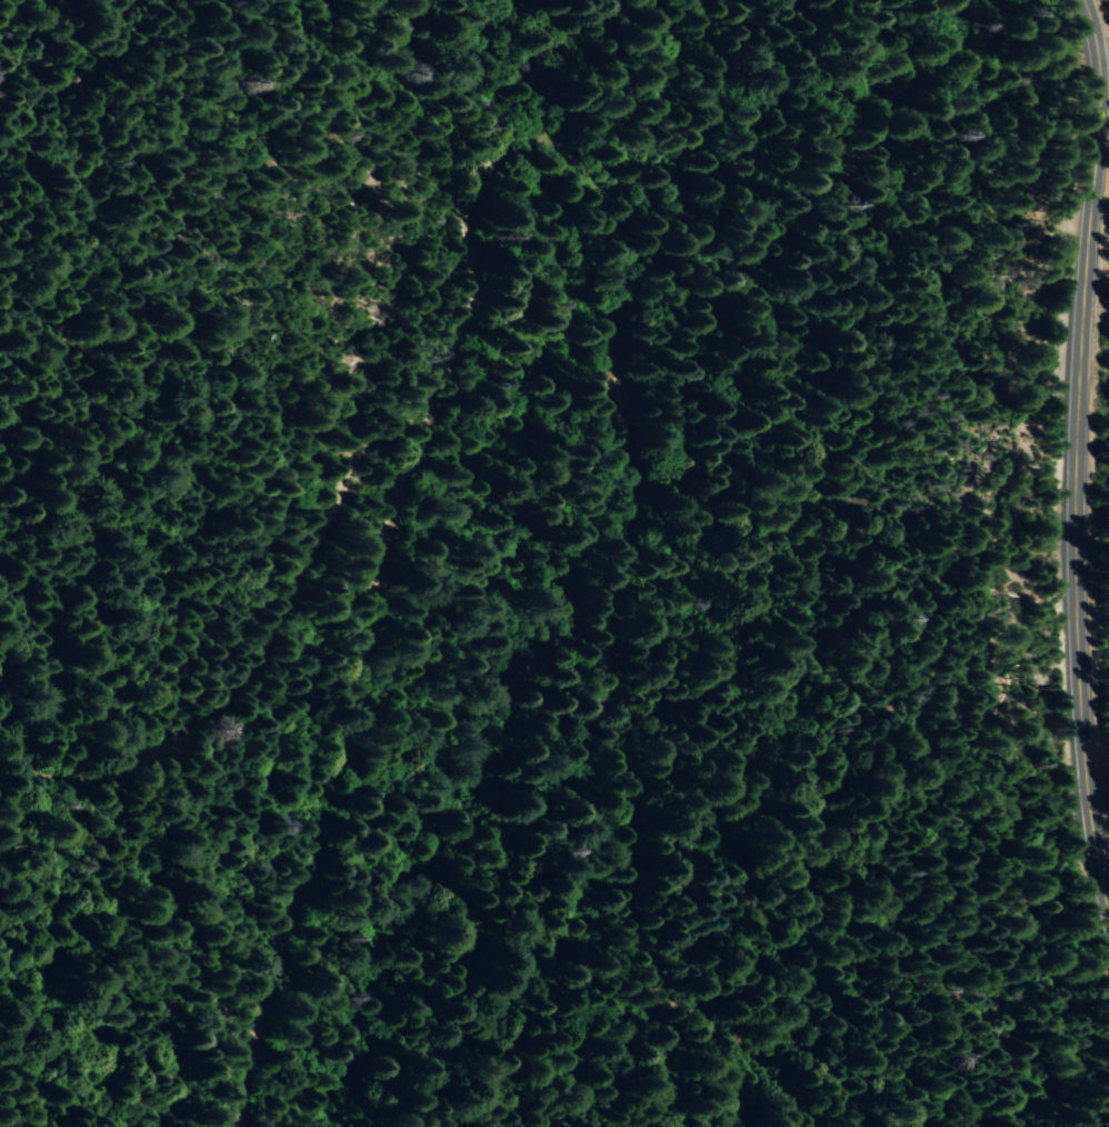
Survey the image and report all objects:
road: (1103, 46)
road: (523, 309)
road: (1080, 461)
road: (192, 644)

